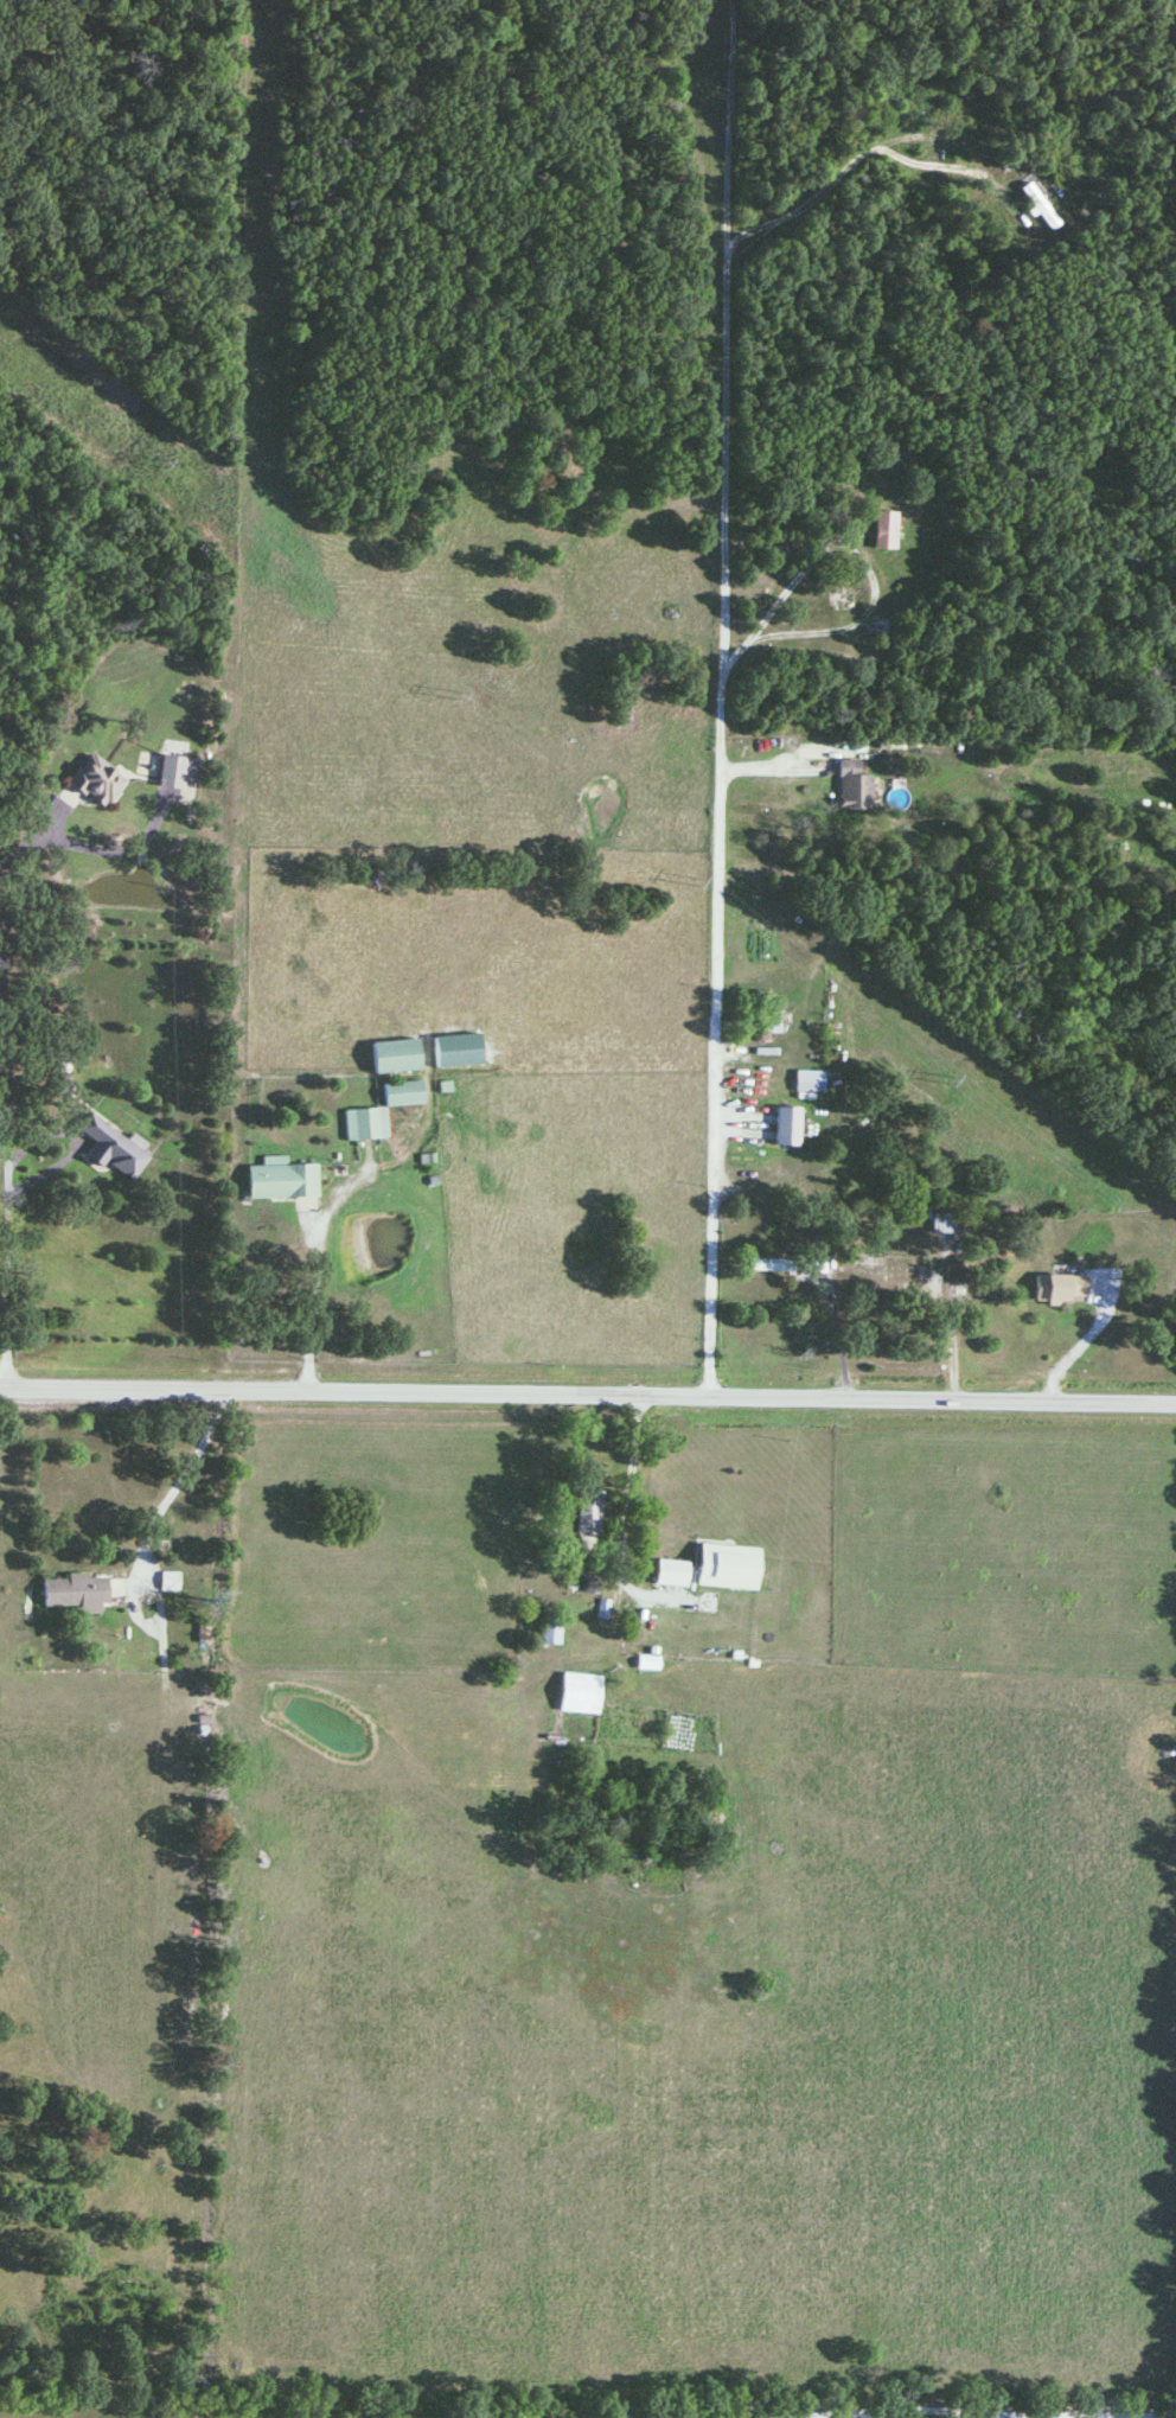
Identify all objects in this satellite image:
road: (859, 152)
building: (1041, 206)
building: (886, 531)
road: (855, 555)
road: (773, 767)
building: (174, 773)
building: (96, 781)
building: (854, 787)
road: (715, 821)
road: (31, 837)
building: (766, 1019)
road: (4, 1023)
building: (396, 1057)
building: (808, 1082)
building: (381, 1111)
road: (4, 1125)
building: (787, 1127)
building: (110, 1148)
building: (282, 1181)
road: (4, 1201)
building: (948, 1223)
road: (7, 1243)
building: (776, 1265)
building: (1060, 1288)
road: (303, 1296)
road: (931, 1326)
road: (833, 1338)
road: (1078, 1345)
road: (588, 1397)
road: (582, 1476)
road: (172, 1486)
building: (588, 1512)
building: (727, 1569)
building: (168, 1582)
building: (76, 1594)
building: (550, 1631)
building: (580, 1695)

